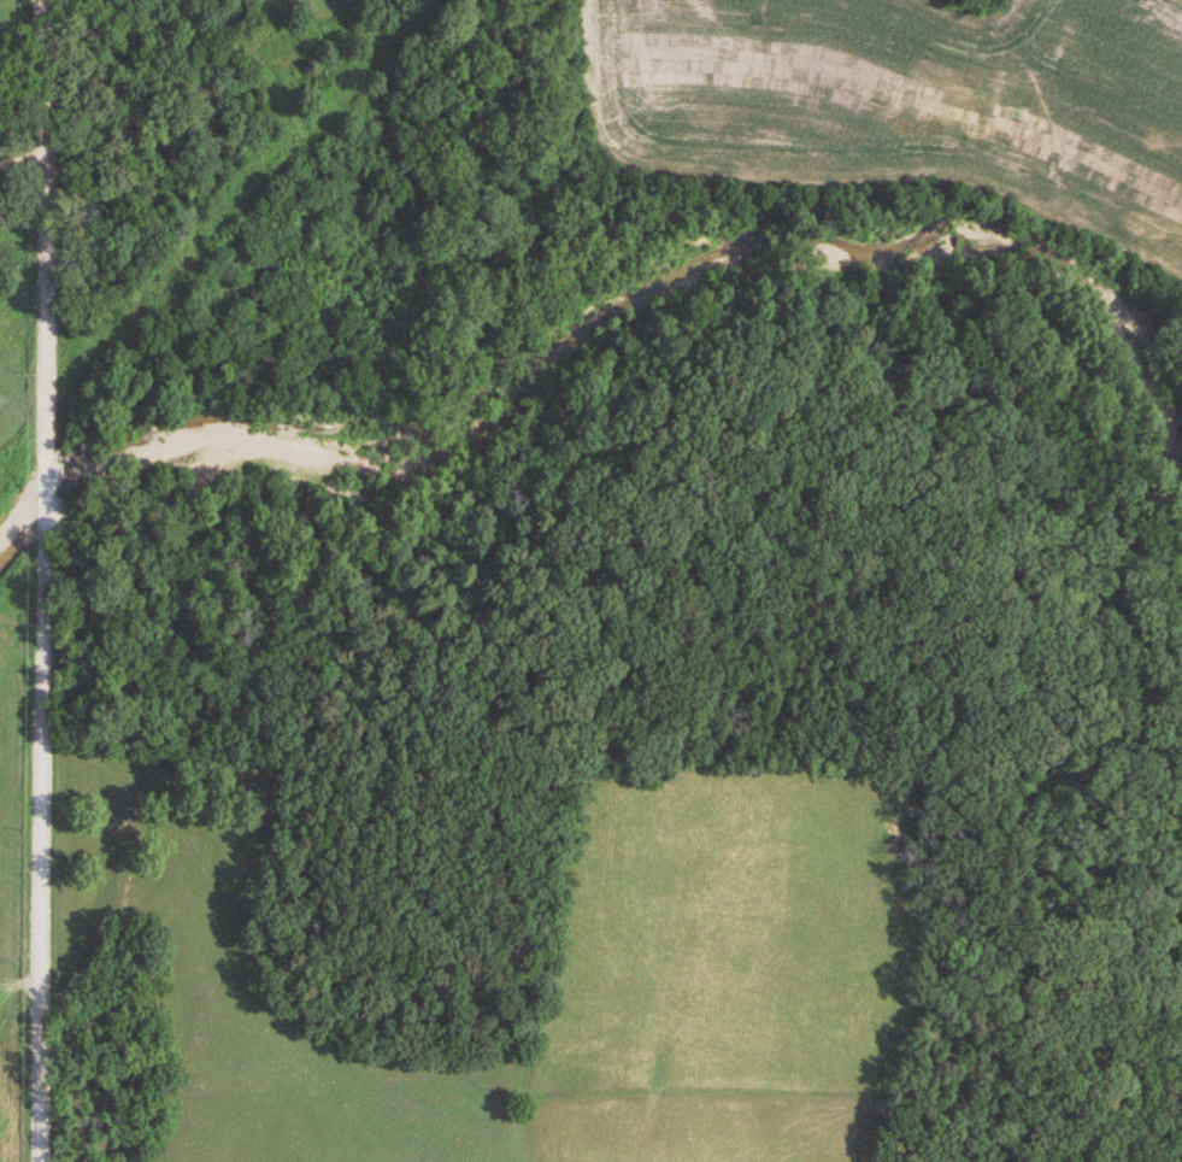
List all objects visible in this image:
road: (41, 581)

